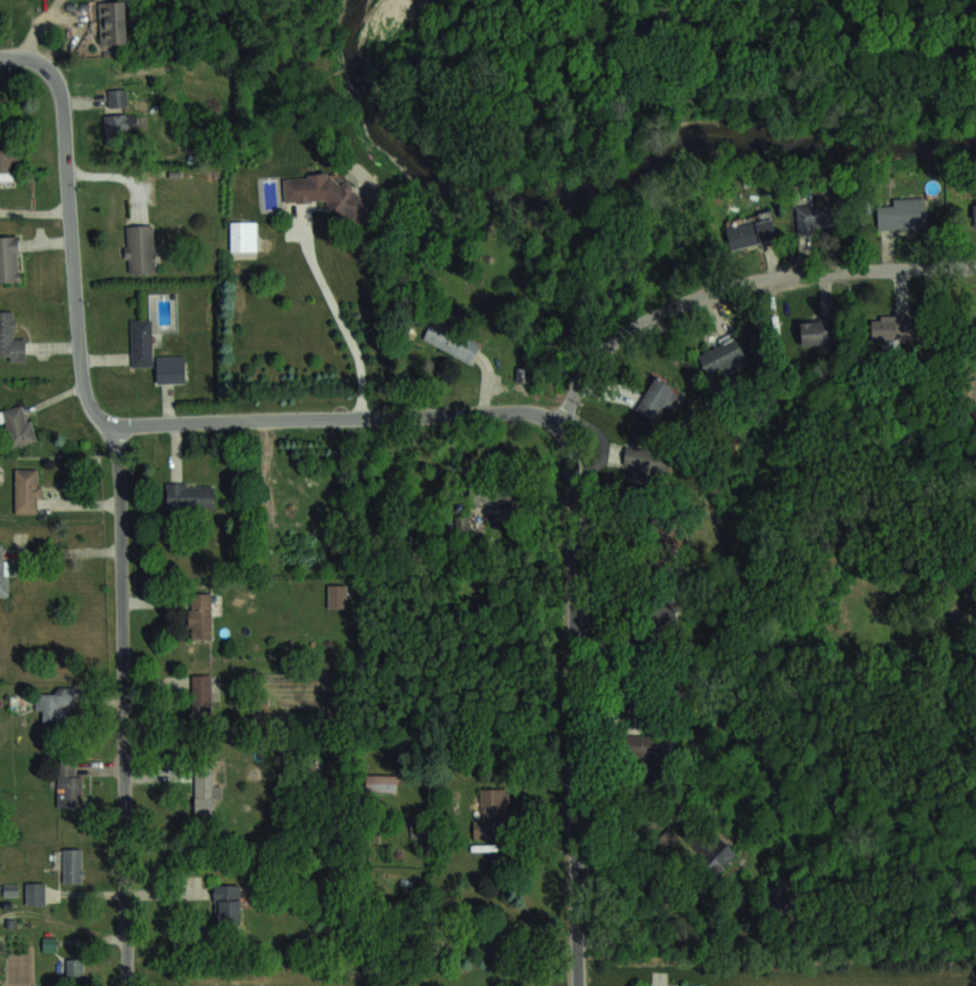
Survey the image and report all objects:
road: (62, 15)
building: (113, 24)
building: (117, 98)
building: (118, 128)
building: (8, 160)
river: (593, 182)
building: (326, 195)
building: (974, 211)
building: (902, 215)
building: (817, 217)
road: (71, 232)
building: (752, 233)
building: (240, 236)
building: (140, 248)
building: (9, 259)
road: (738, 284)
building: (883, 327)
road: (346, 328)
building: (816, 332)
building: (10, 338)
building: (452, 341)
building: (141, 343)
building: (722, 358)
building: (170, 369)
building: (656, 399)
road: (339, 417)
building: (17, 425)
building: (648, 468)
building: (27, 490)
building: (189, 496)
building: (661, 544)
building: (3, 569)
building: (337, 595)
building: (200, 615)
building: (201, 694)
road: (575, 704)
building: (55, 706)
road: (124, 711)
building: (645, 755)
building: (380, 782)
building: (68, 786)
building: (205, 789)
building: (491, 814)
building: (712, 850)
building: (72, 865)
building: (35, 893)
building: (227, 904)
building: (49, 943)
building: (74, 966)
building: (682, 985)

